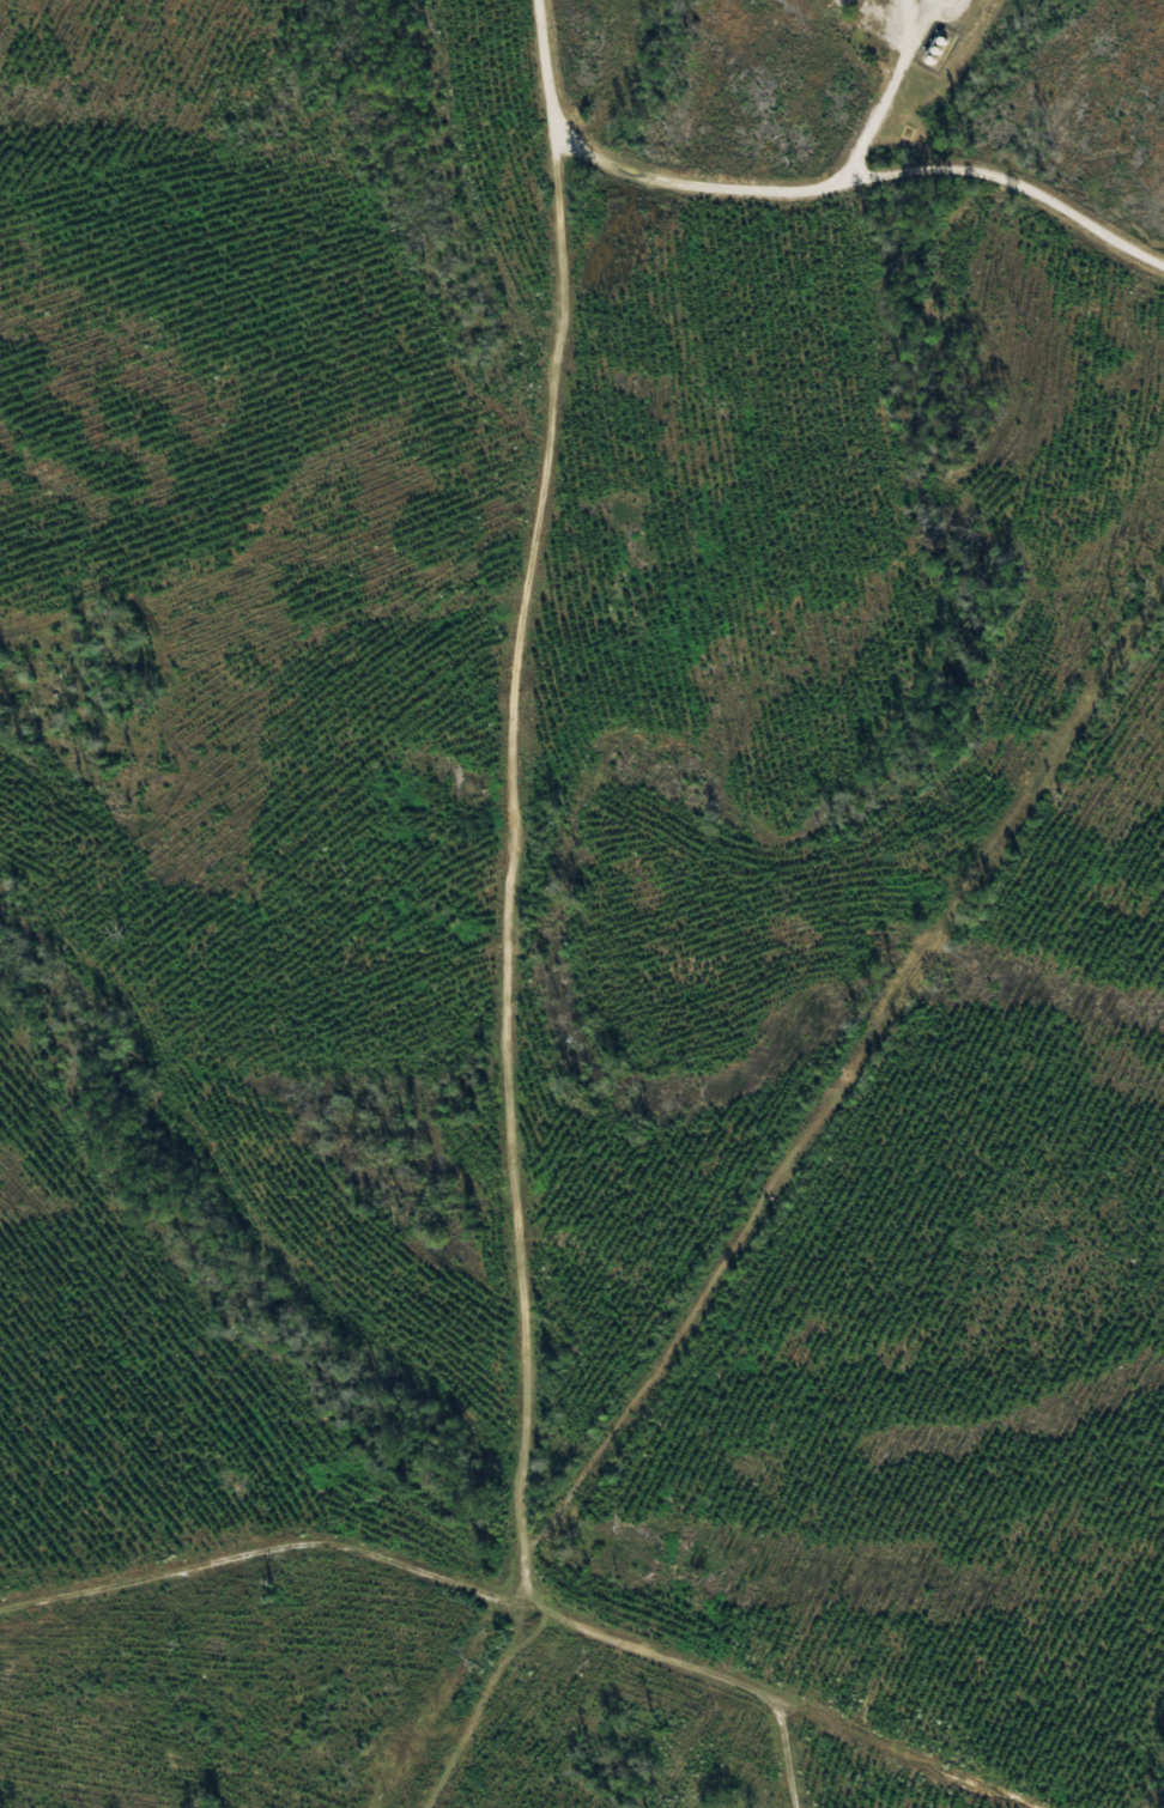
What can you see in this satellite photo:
road: (525, 912)
road: (531, 1607)
road: (808, 1773)

